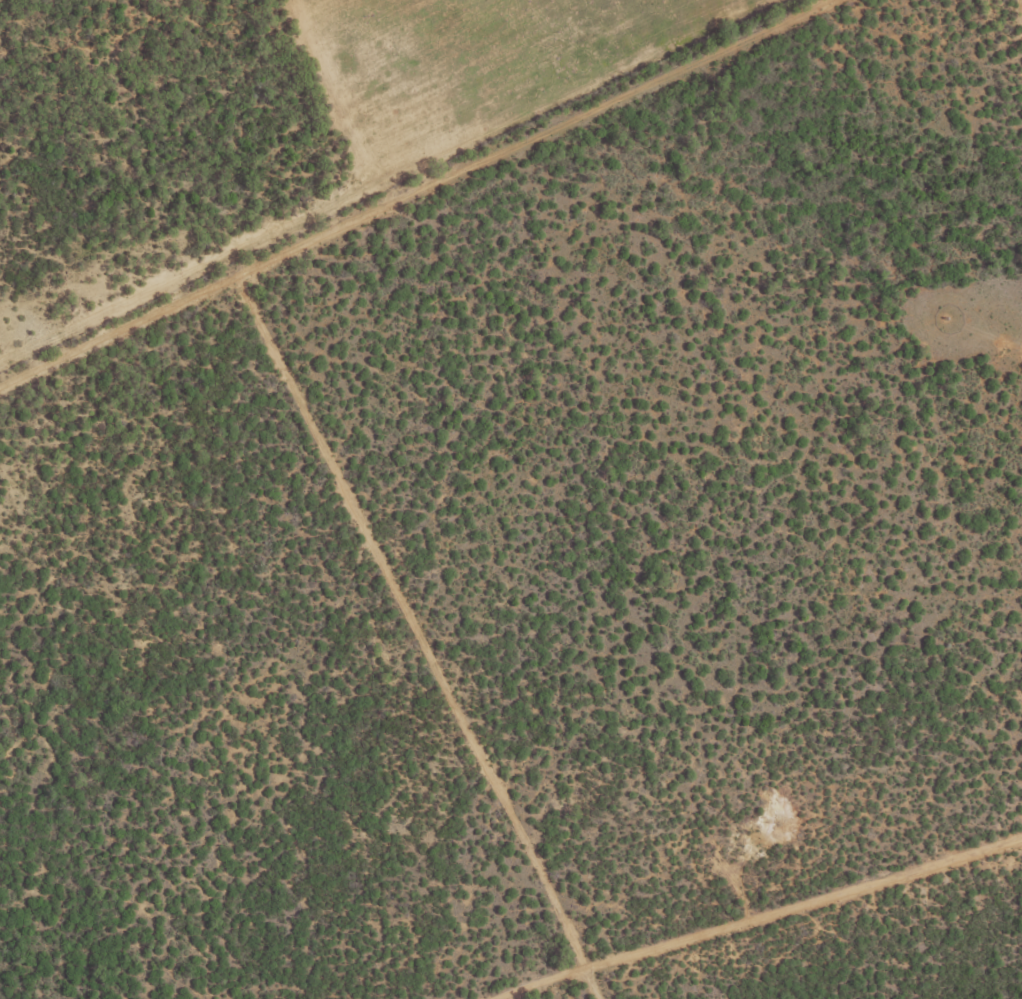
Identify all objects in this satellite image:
road: (5, 383)
road: (450, 701)

